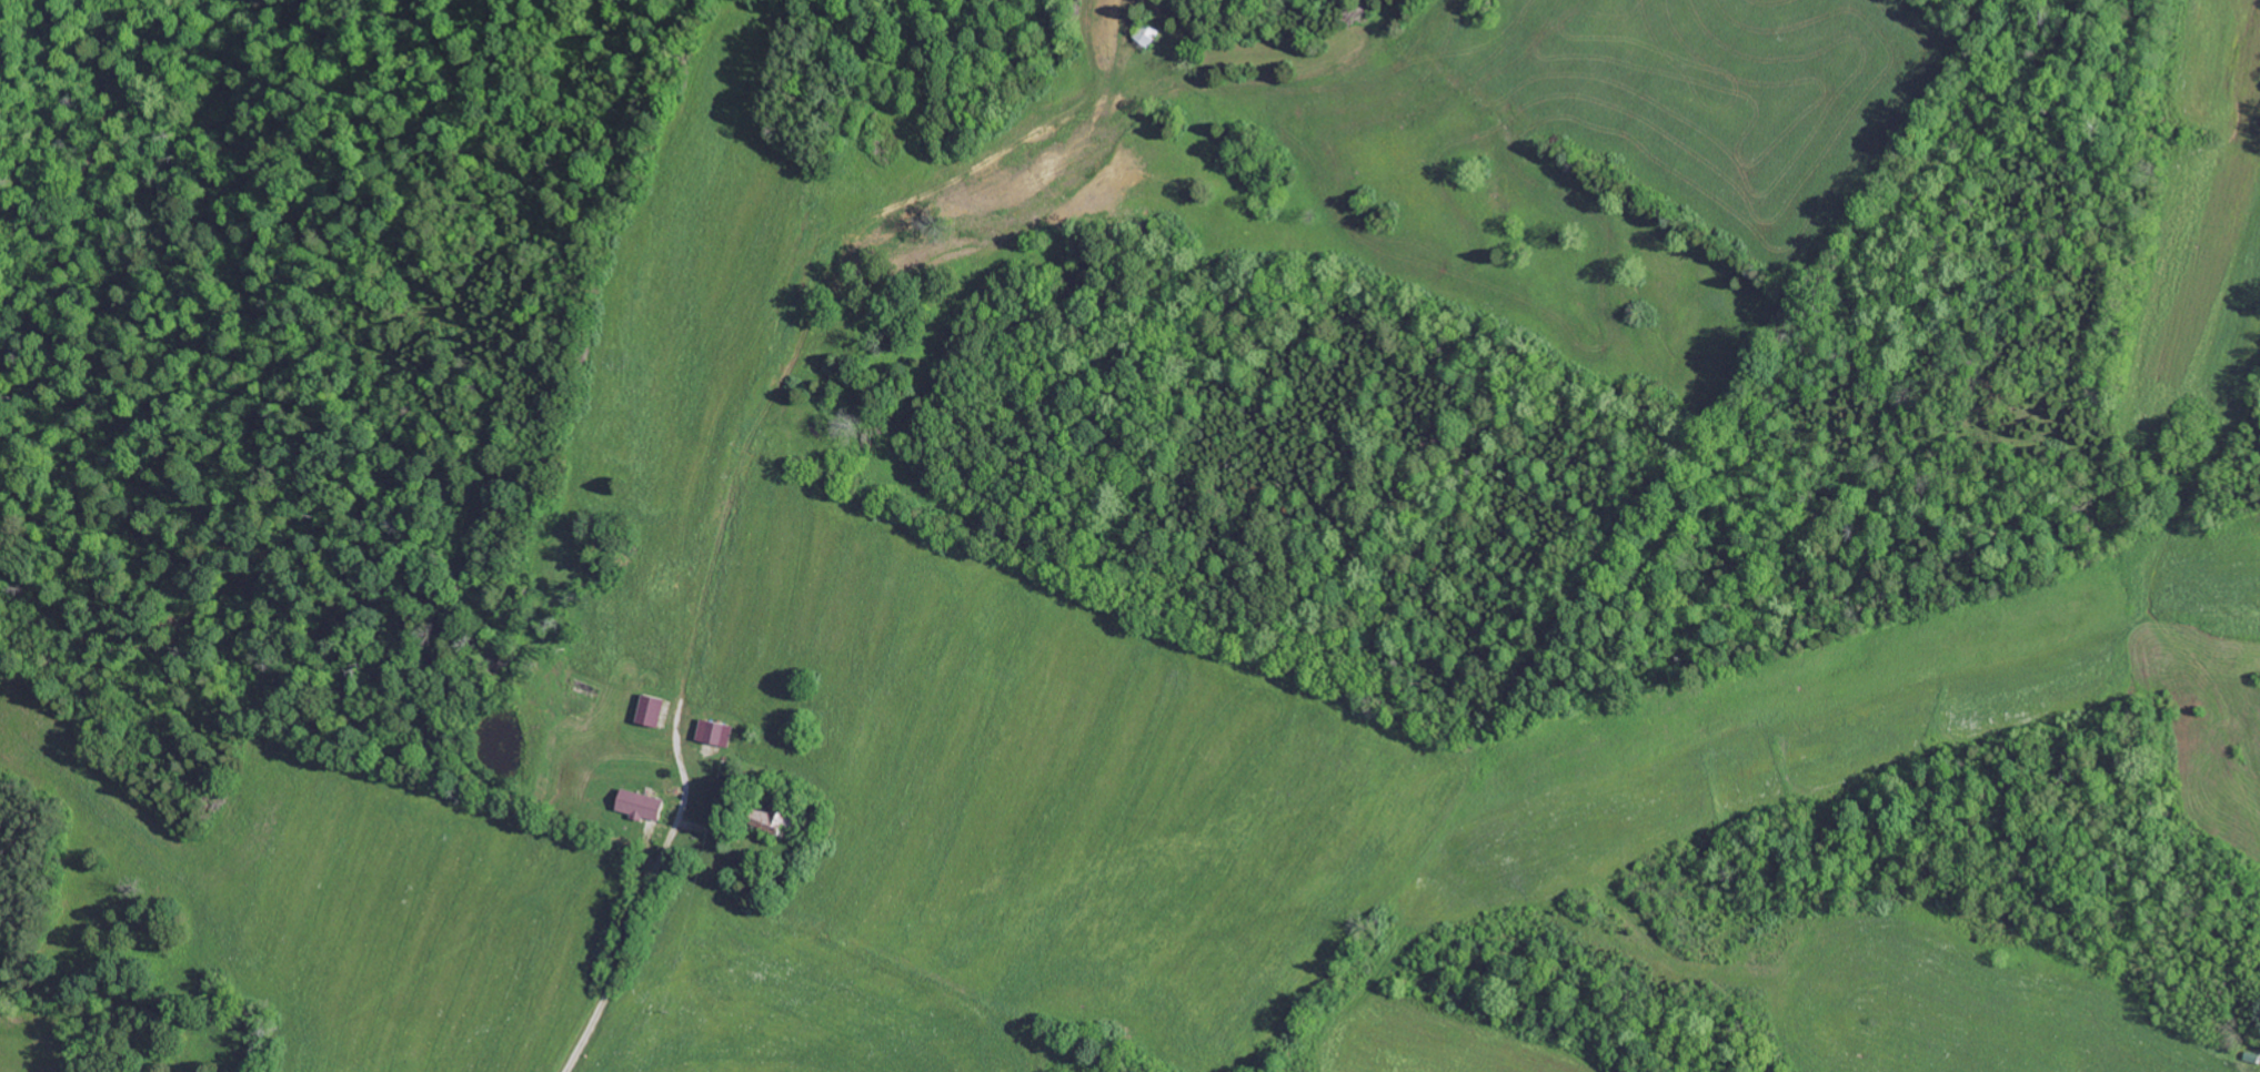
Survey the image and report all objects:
building: (647, 710)
building: (712, 731)
building: (636, 805)
building: (761, 812)
road: (613, 973)

